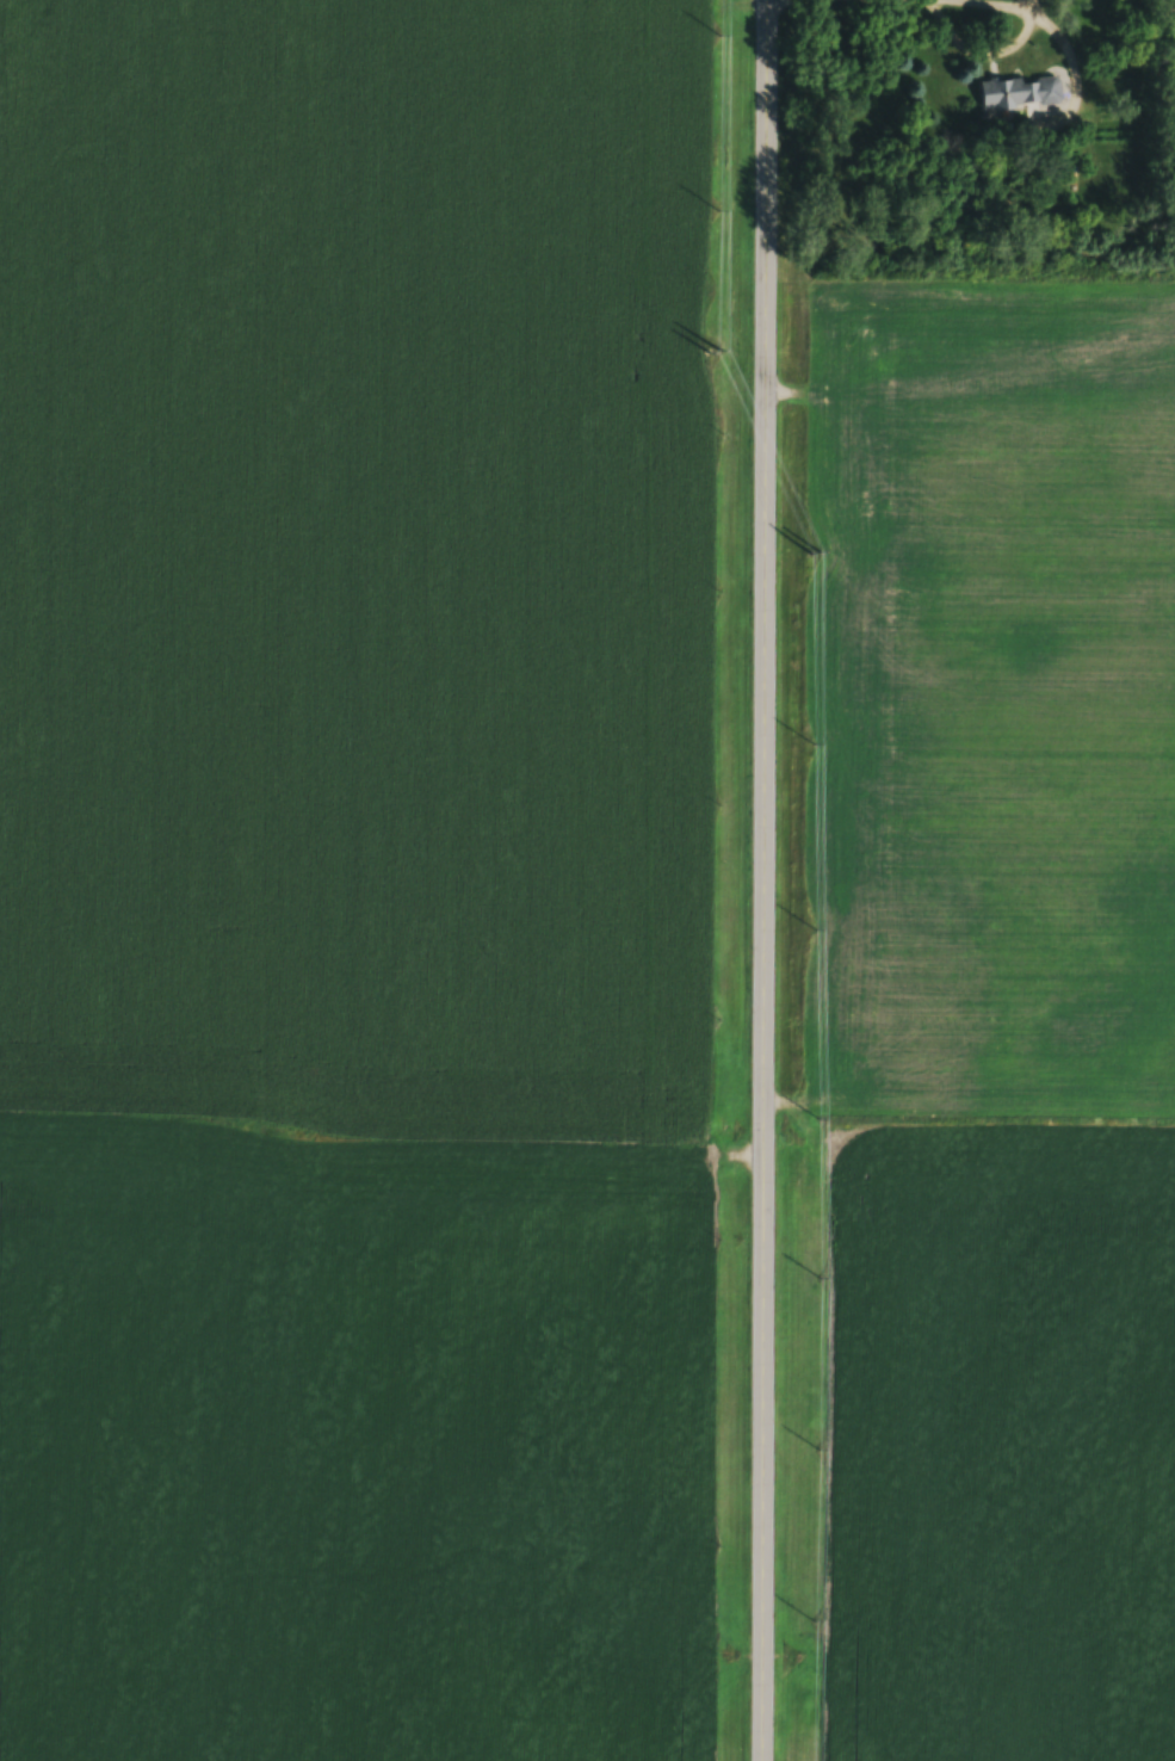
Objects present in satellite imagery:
road: (1026, 10)
road: (998, 49)
road: (1069, 61)
building: (1022, 93)
road: (765, 880)

